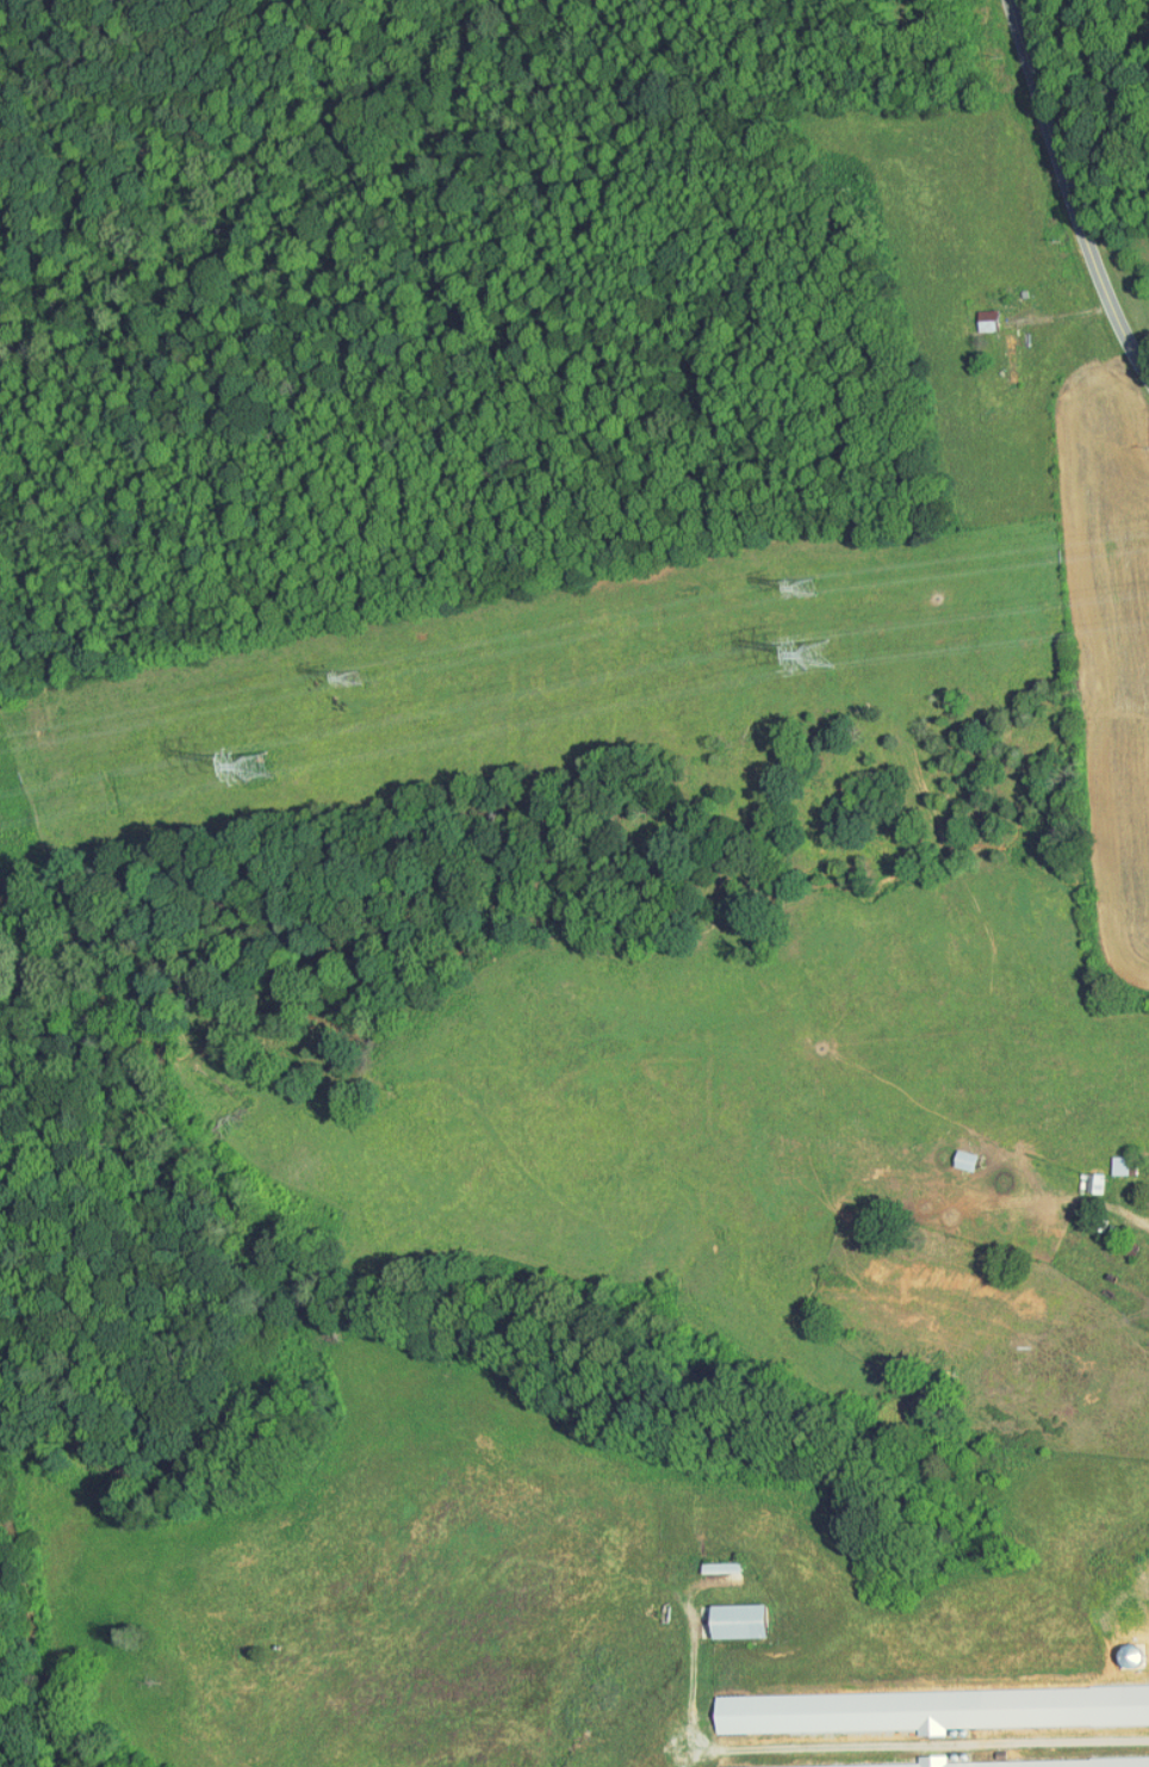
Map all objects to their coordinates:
road: (1069, 193)
building: (980, 312)
power tower: (809, 588)
power tower: (824, 658)
power tower: (361, 678)
power tower: (267, 765)
building: (734, 1613)
building: (926, 1703)
building: (961, 1760)

